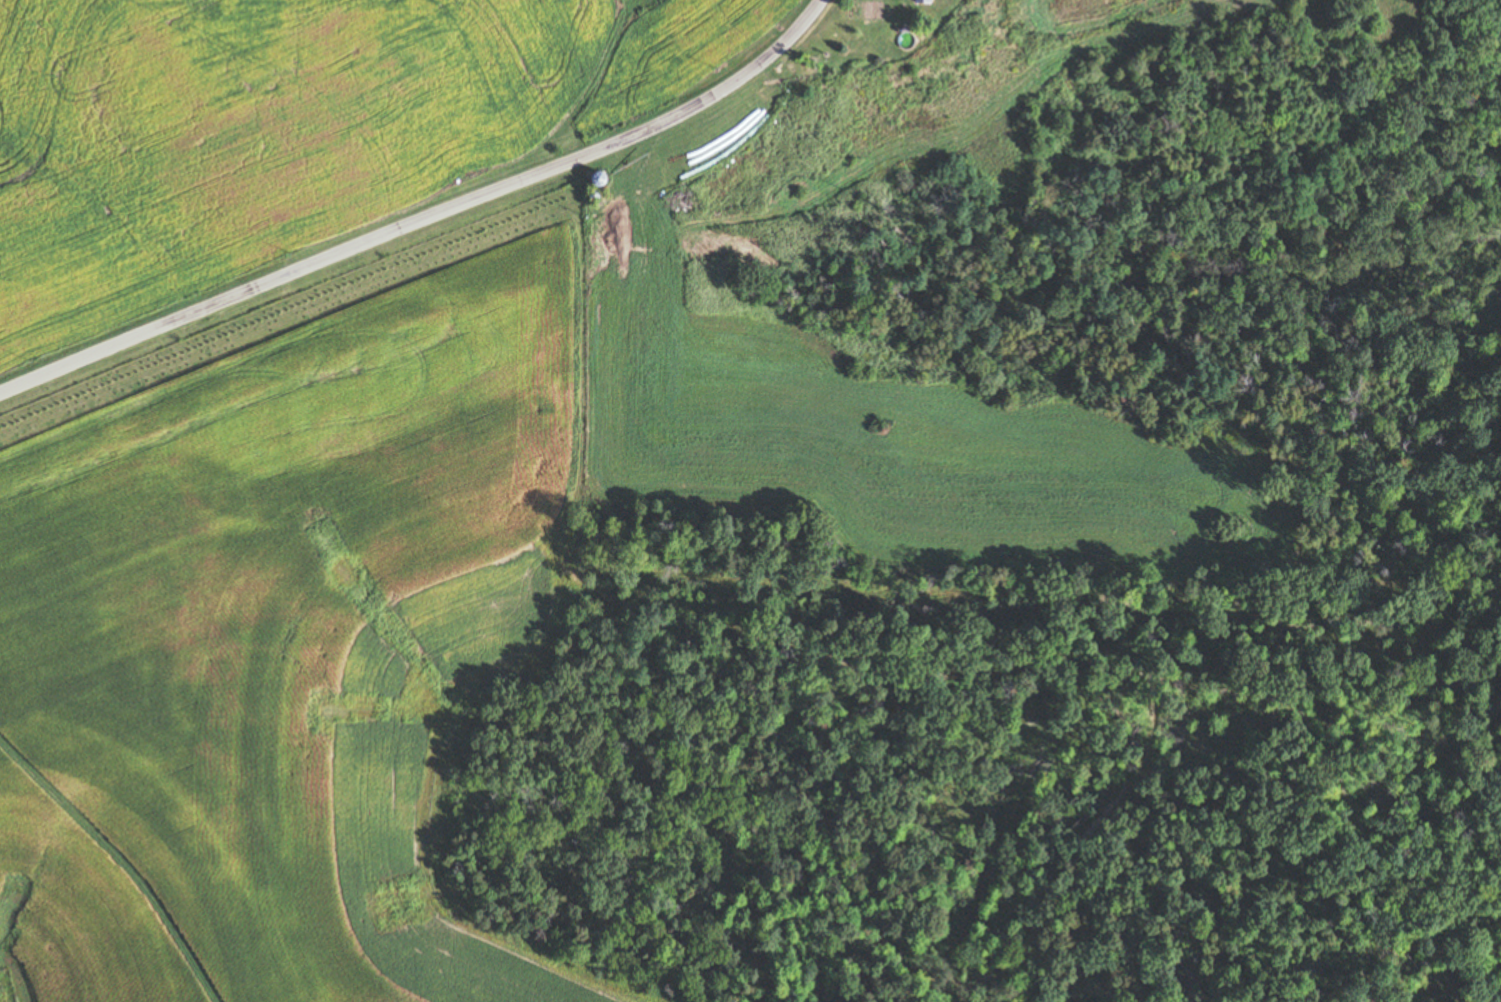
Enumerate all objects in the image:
building: (909, 0)
road: (421, 222)

